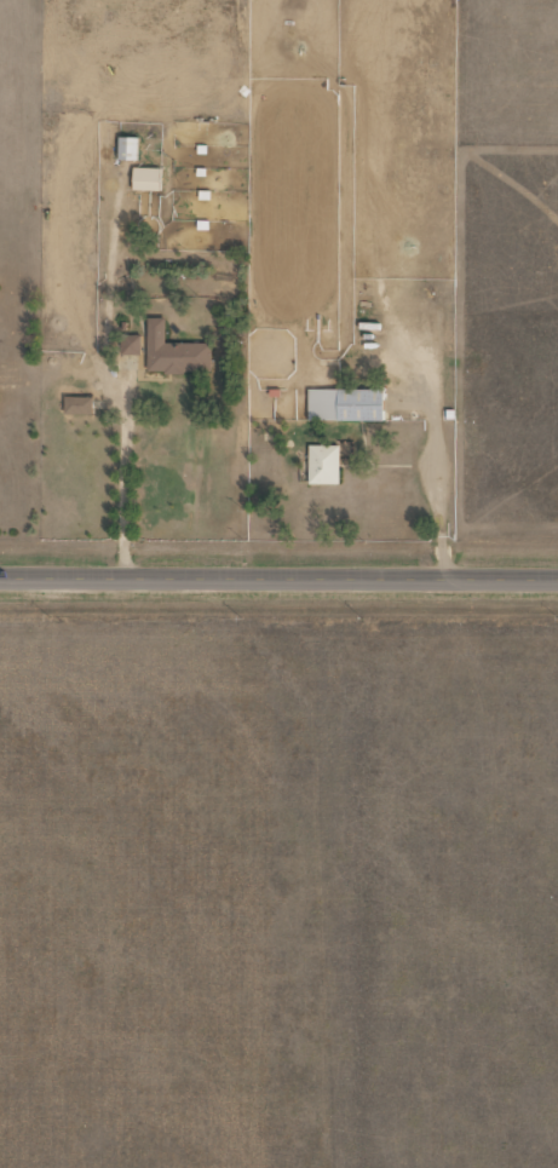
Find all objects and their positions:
building: (127, 148)
building: (145, 178)
building: (130, 344)
building: (173, 351)
building: (344, 403)
building: (77, 404)
building: (323, 464)
road: (278, 576)

